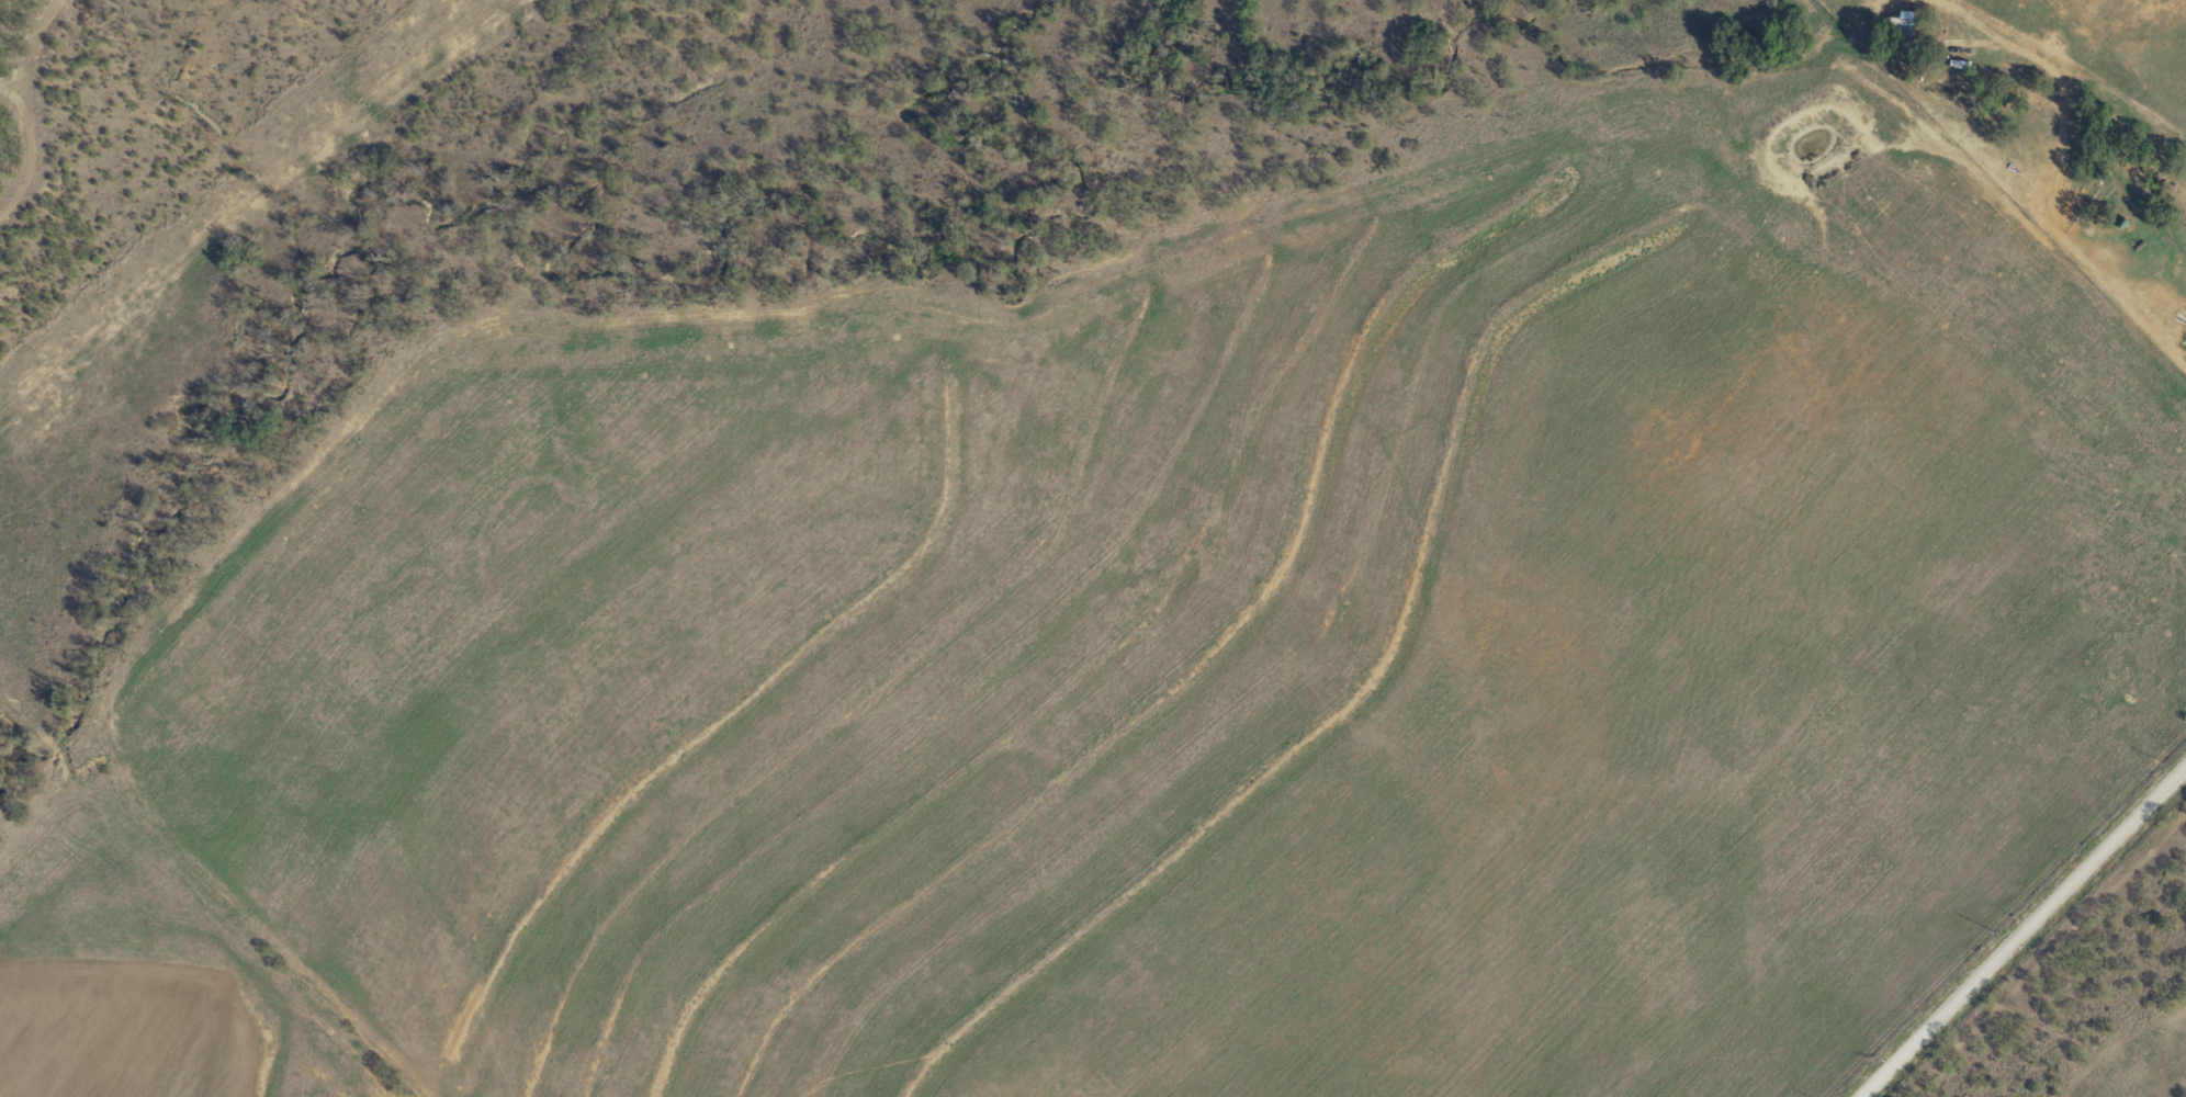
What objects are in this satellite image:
building: (1898, 22)
road: (2001, 214)
road: (2017, 928)

